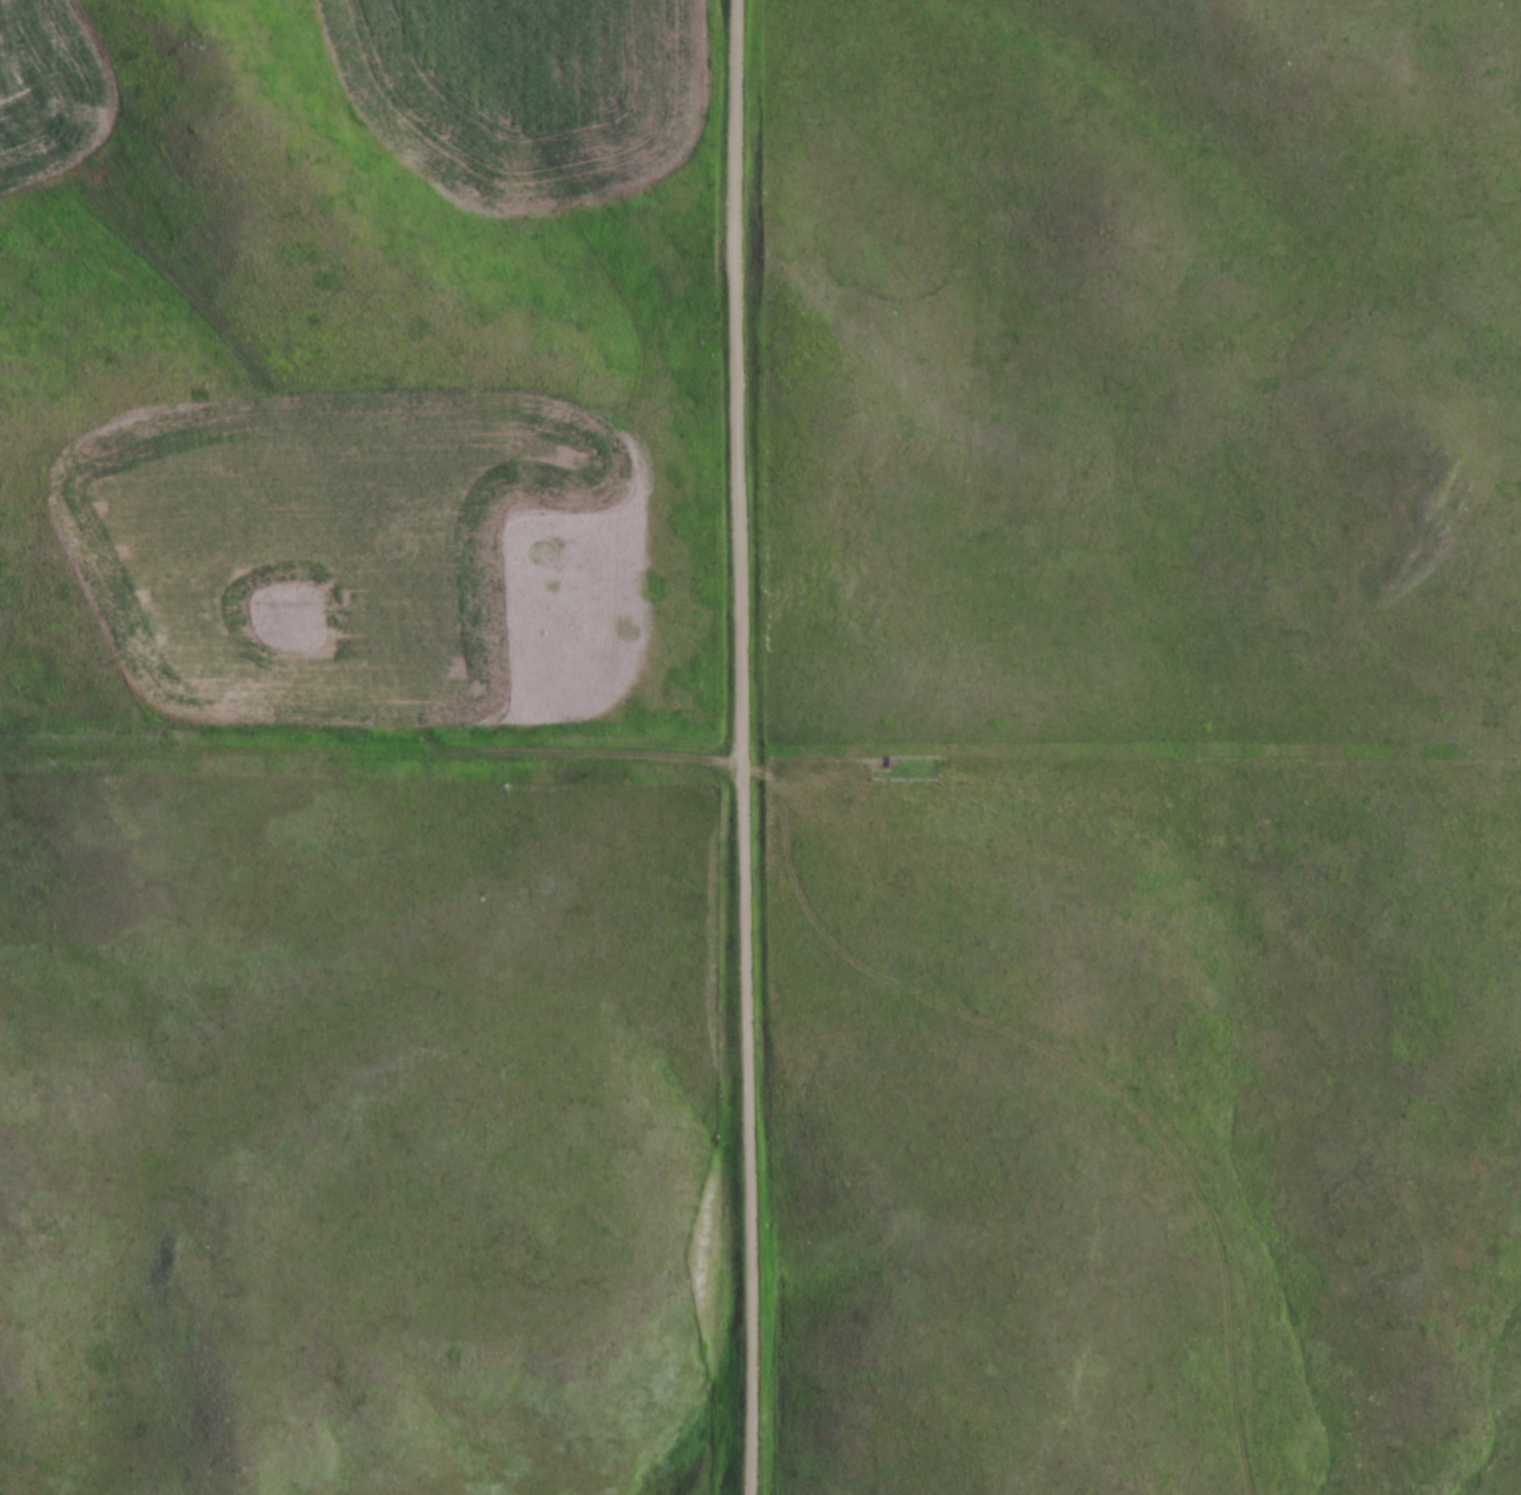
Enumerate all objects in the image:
road: (371, 746)
road: (741, 747)

